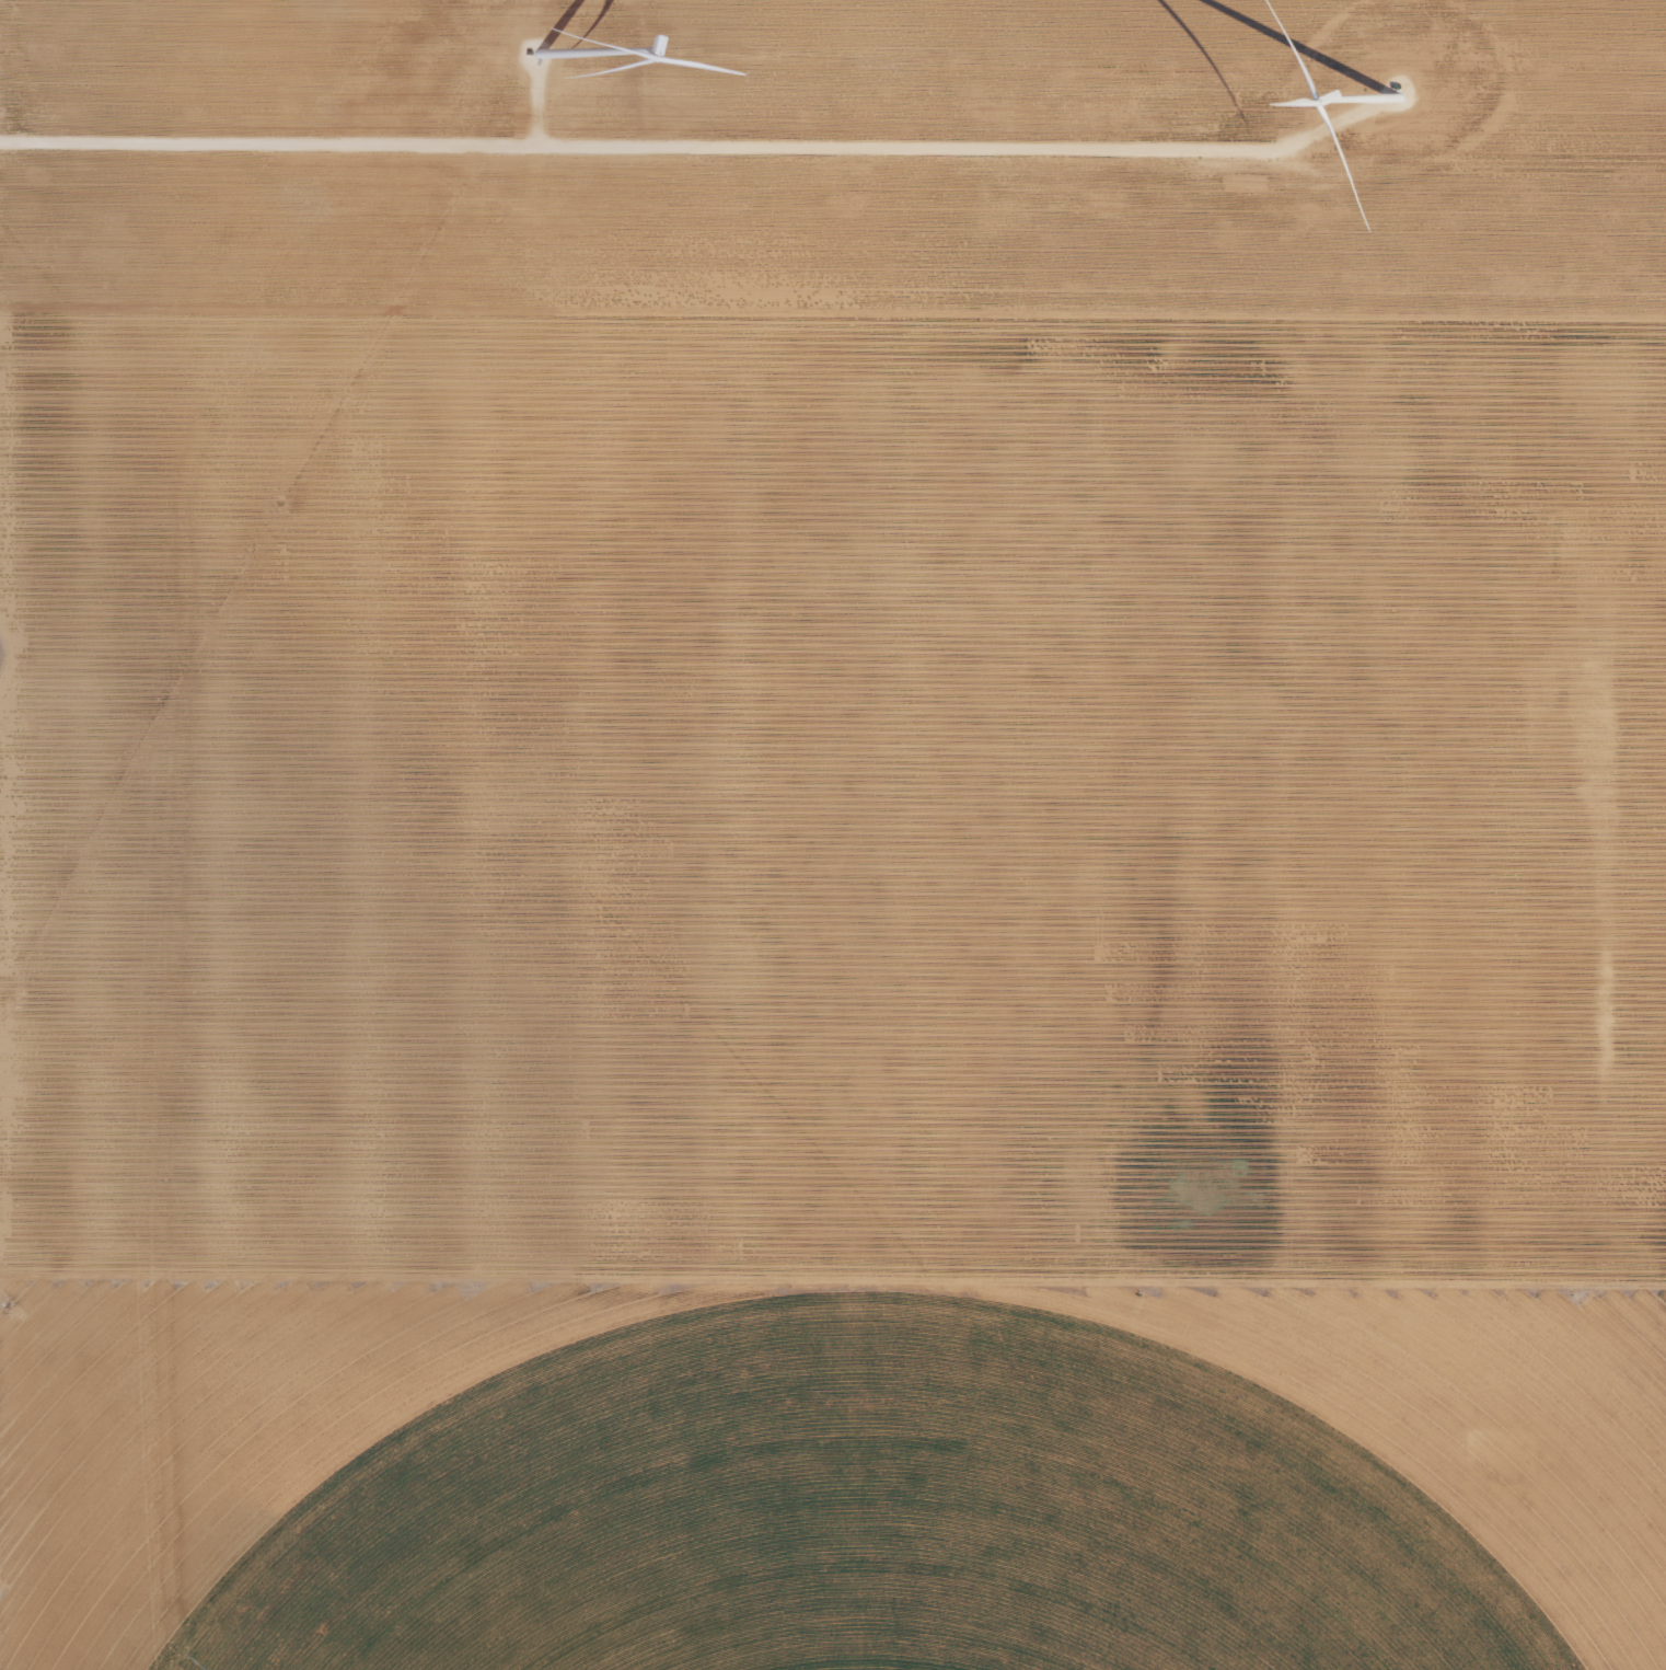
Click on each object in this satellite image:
wind turbine: (531, 56)
wind turbine: (1400, 88)

